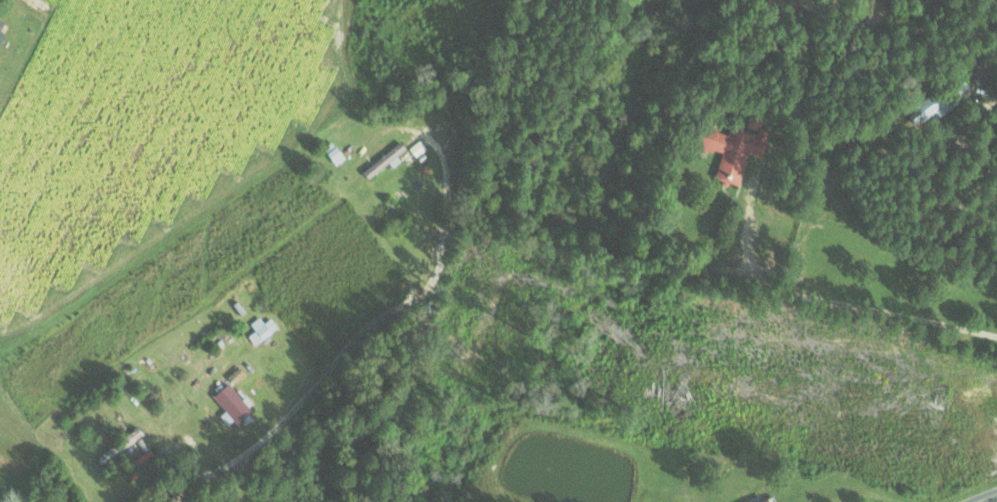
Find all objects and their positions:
building: (3, 27)
building: (982, 71)
building: (934, 105)
building: (418, 147)
building: (737, 147)
building: (385, 159)
road: (444, 161)
road: (967, 208)
road: (866, 306)
building: (262, 328)
road: (317, 382)
building: (233, 397)
road: (987, 498)

